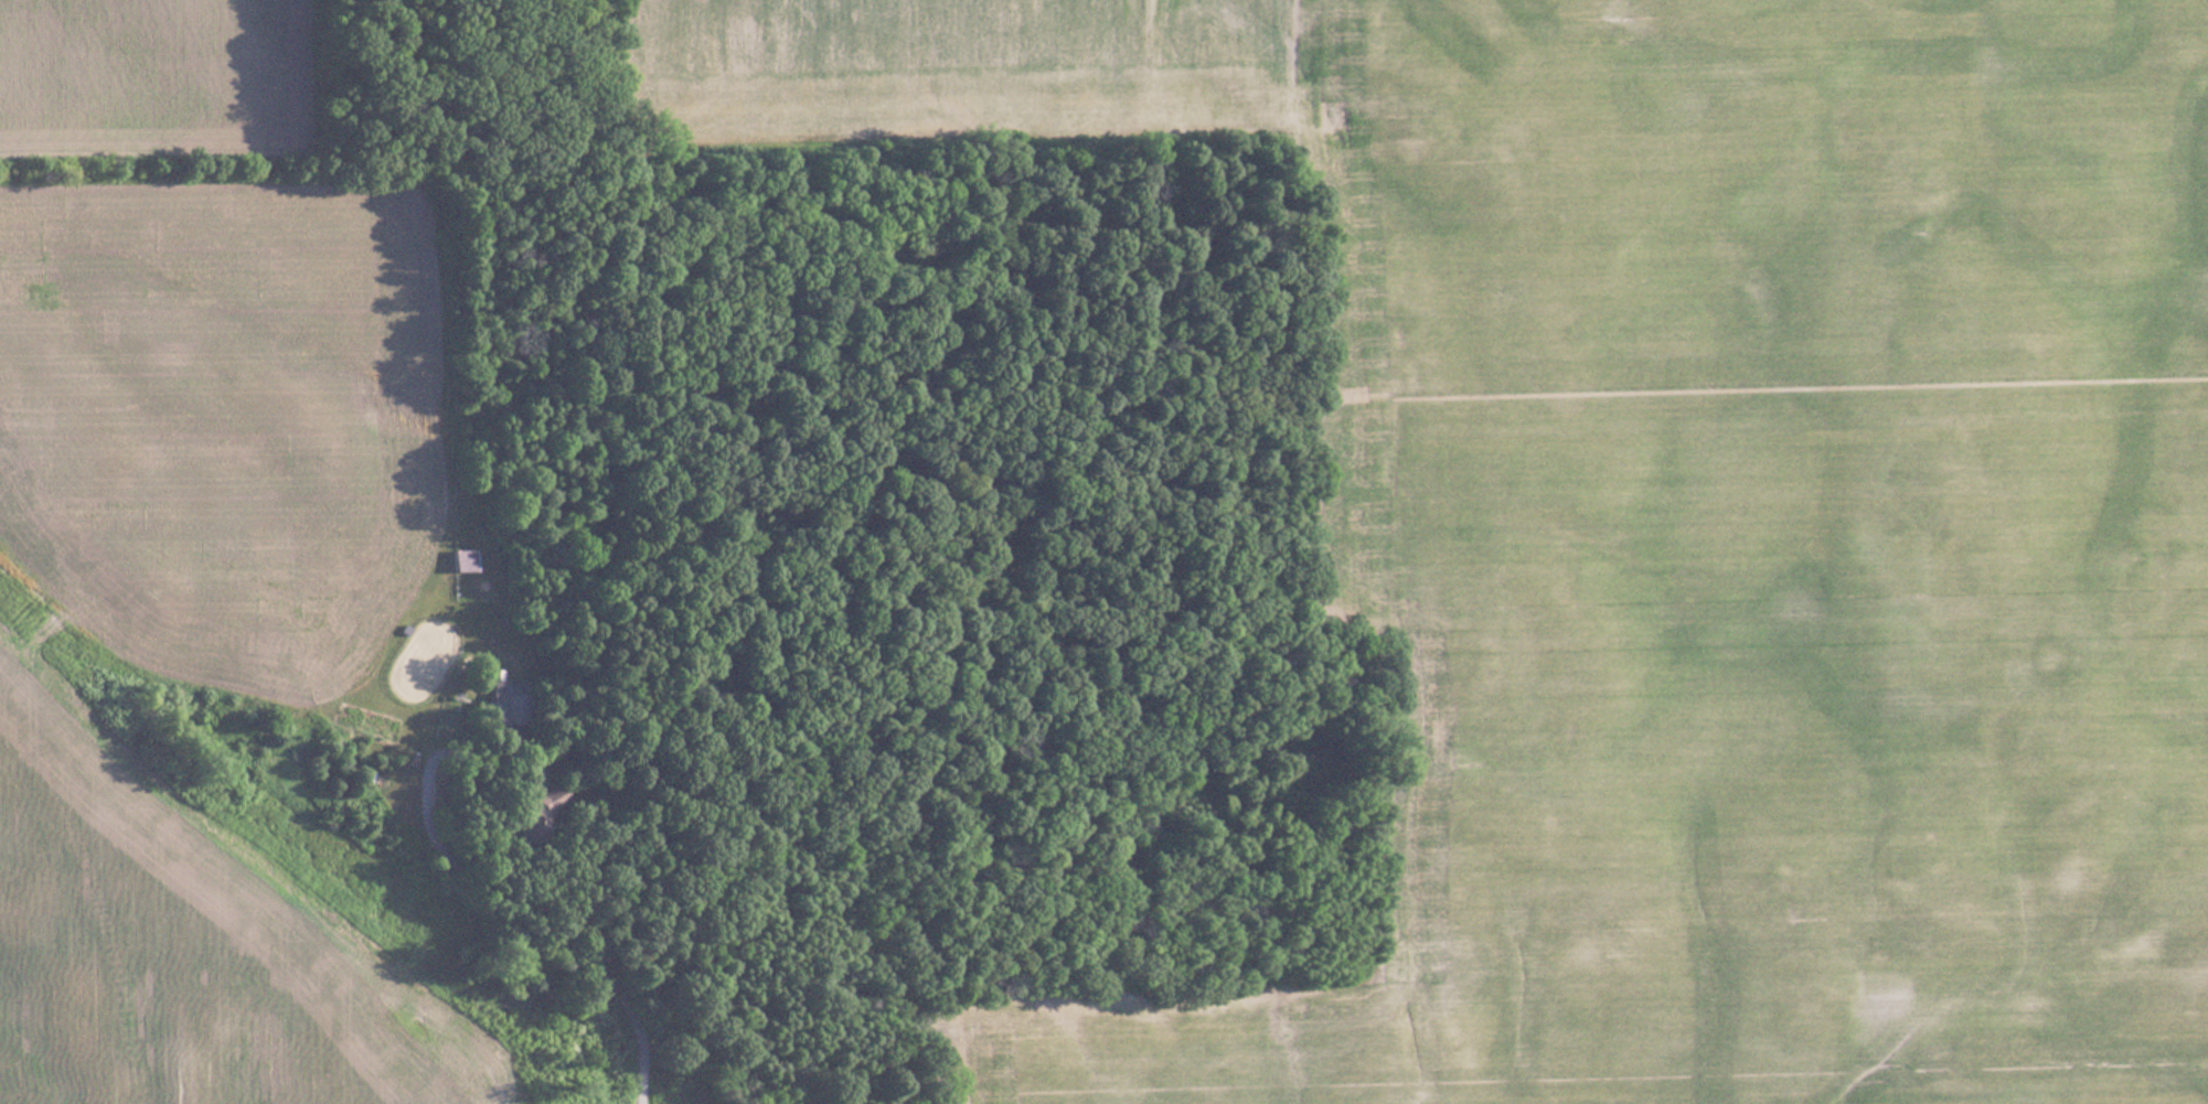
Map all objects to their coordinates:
building: (456, 561)
building: (508, 703)
building: (536, 817)
road: (638, 1041)

